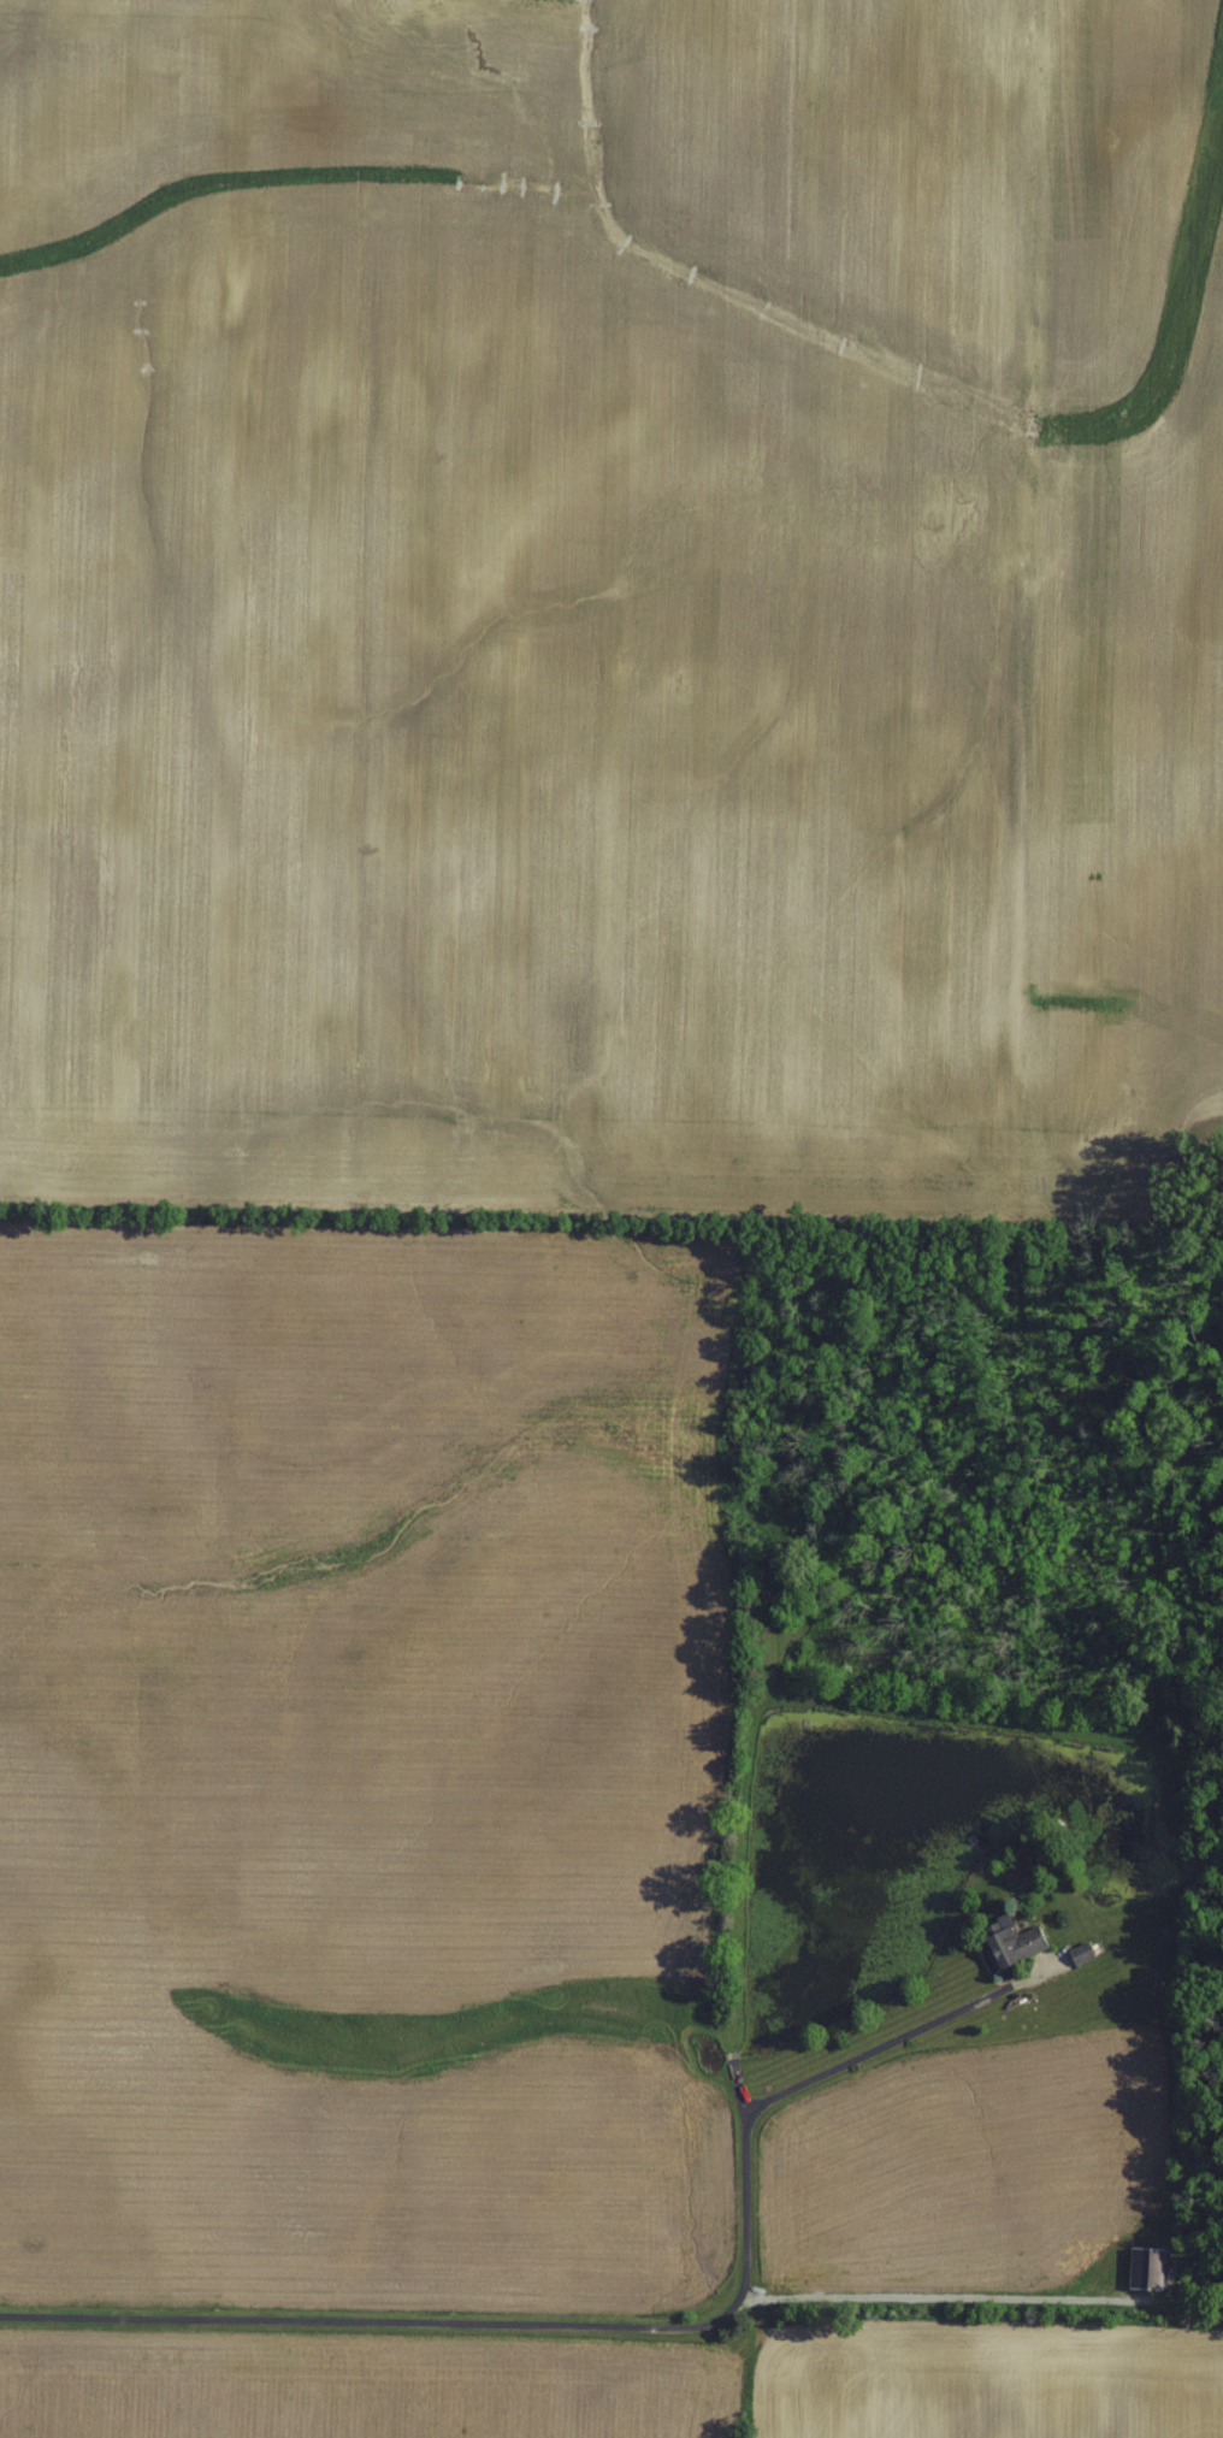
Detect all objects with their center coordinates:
road: (920, 2292)
road: (584, 2324)

